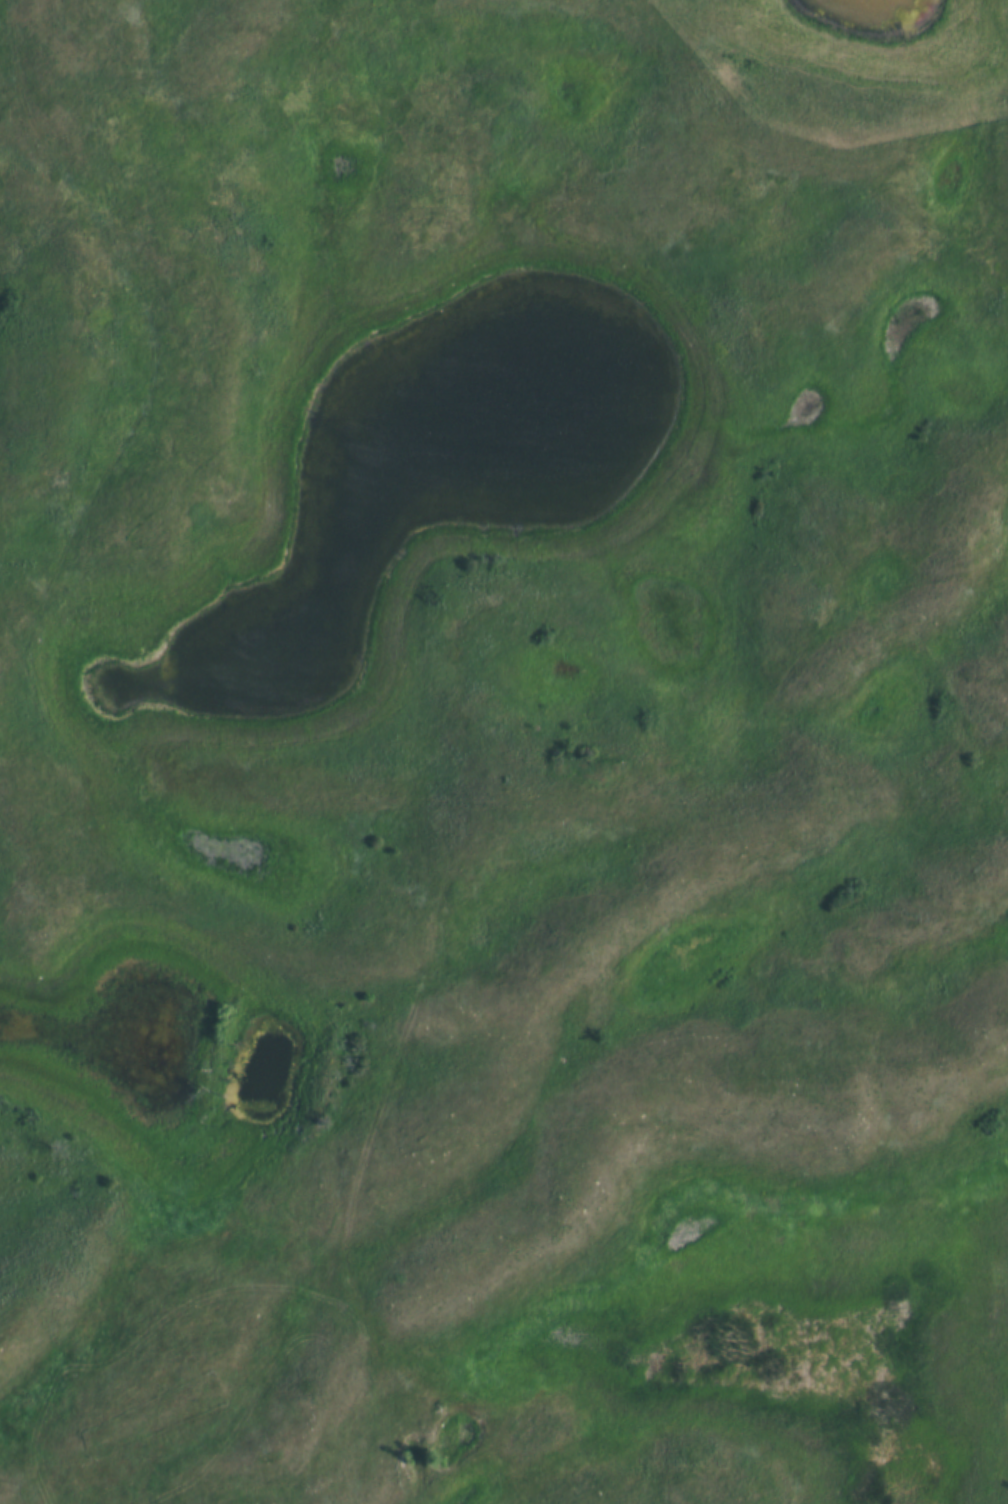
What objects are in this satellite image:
road: (192, 790)

